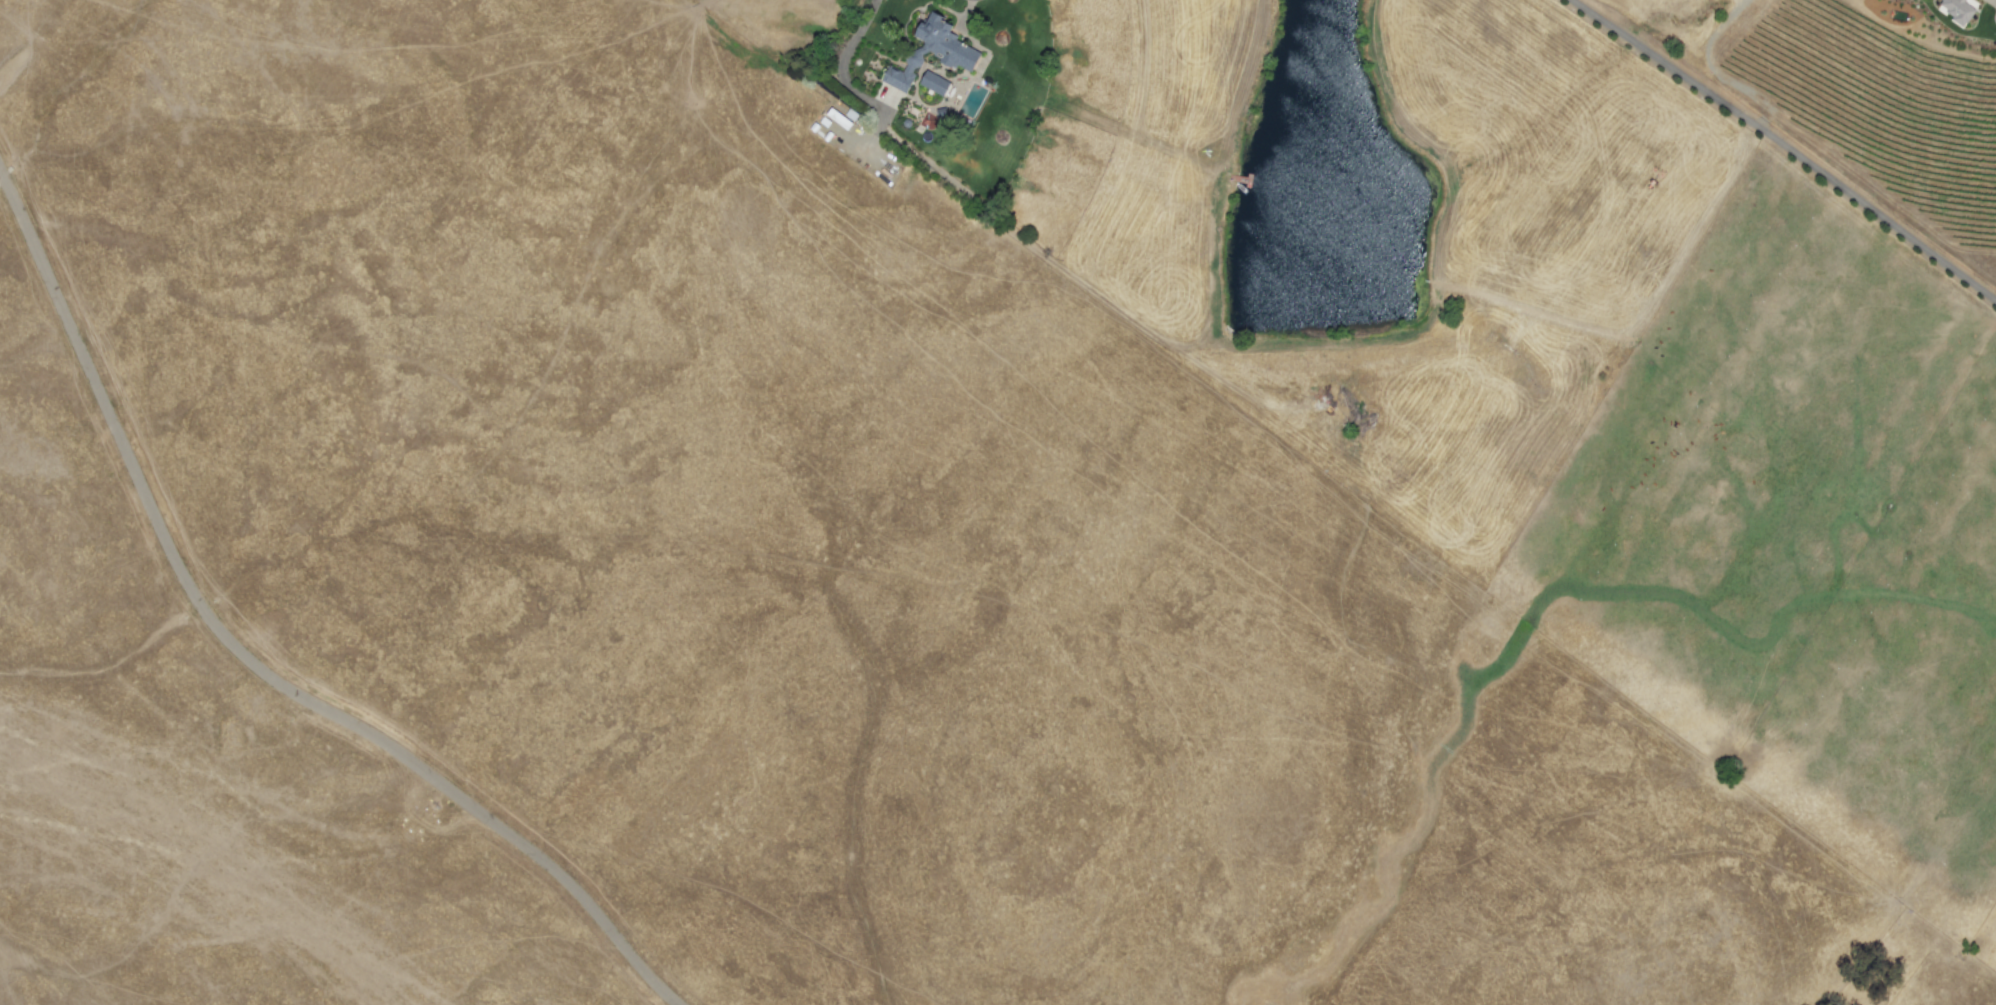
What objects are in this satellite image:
road: (1935, 5)
building: (1957, 11)
building: (932, 52)
road: (1714, 71)
building: (934, 83)
building: (842, 117)
road: (1785, 152)

